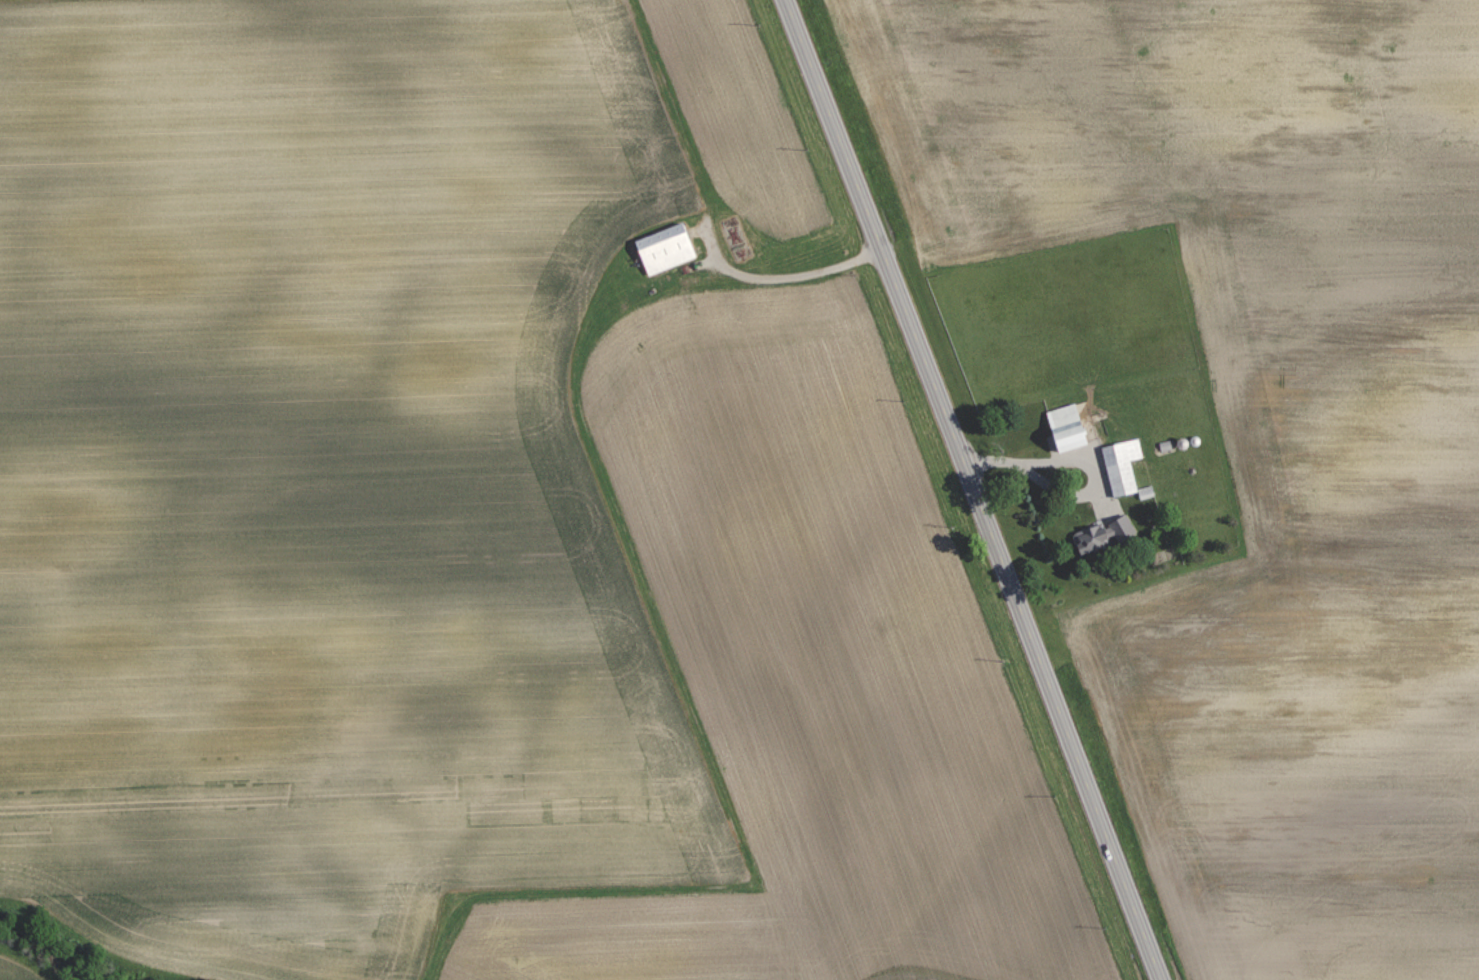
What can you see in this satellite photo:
building: (666, 248)
road: (796, 276)
building: (1069, 427)
road: (1083, 461)
building: (1122, 466)
road: (972, 490)
building: (1105, 535)

